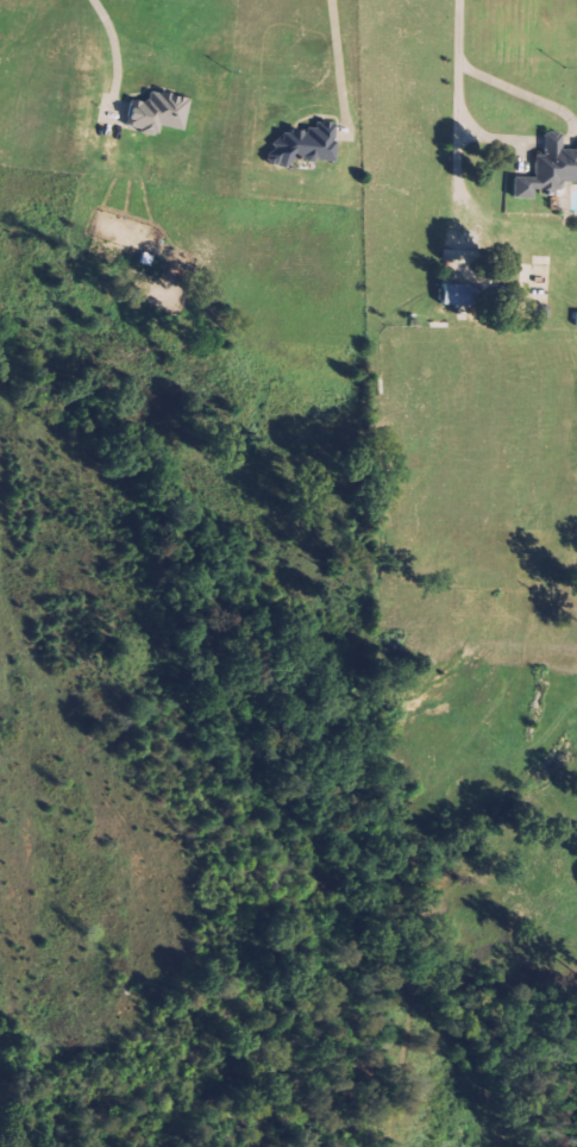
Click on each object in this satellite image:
building: (153, 113)
building: (300, 145)
building: (547, 169)
building: (445, 294)

